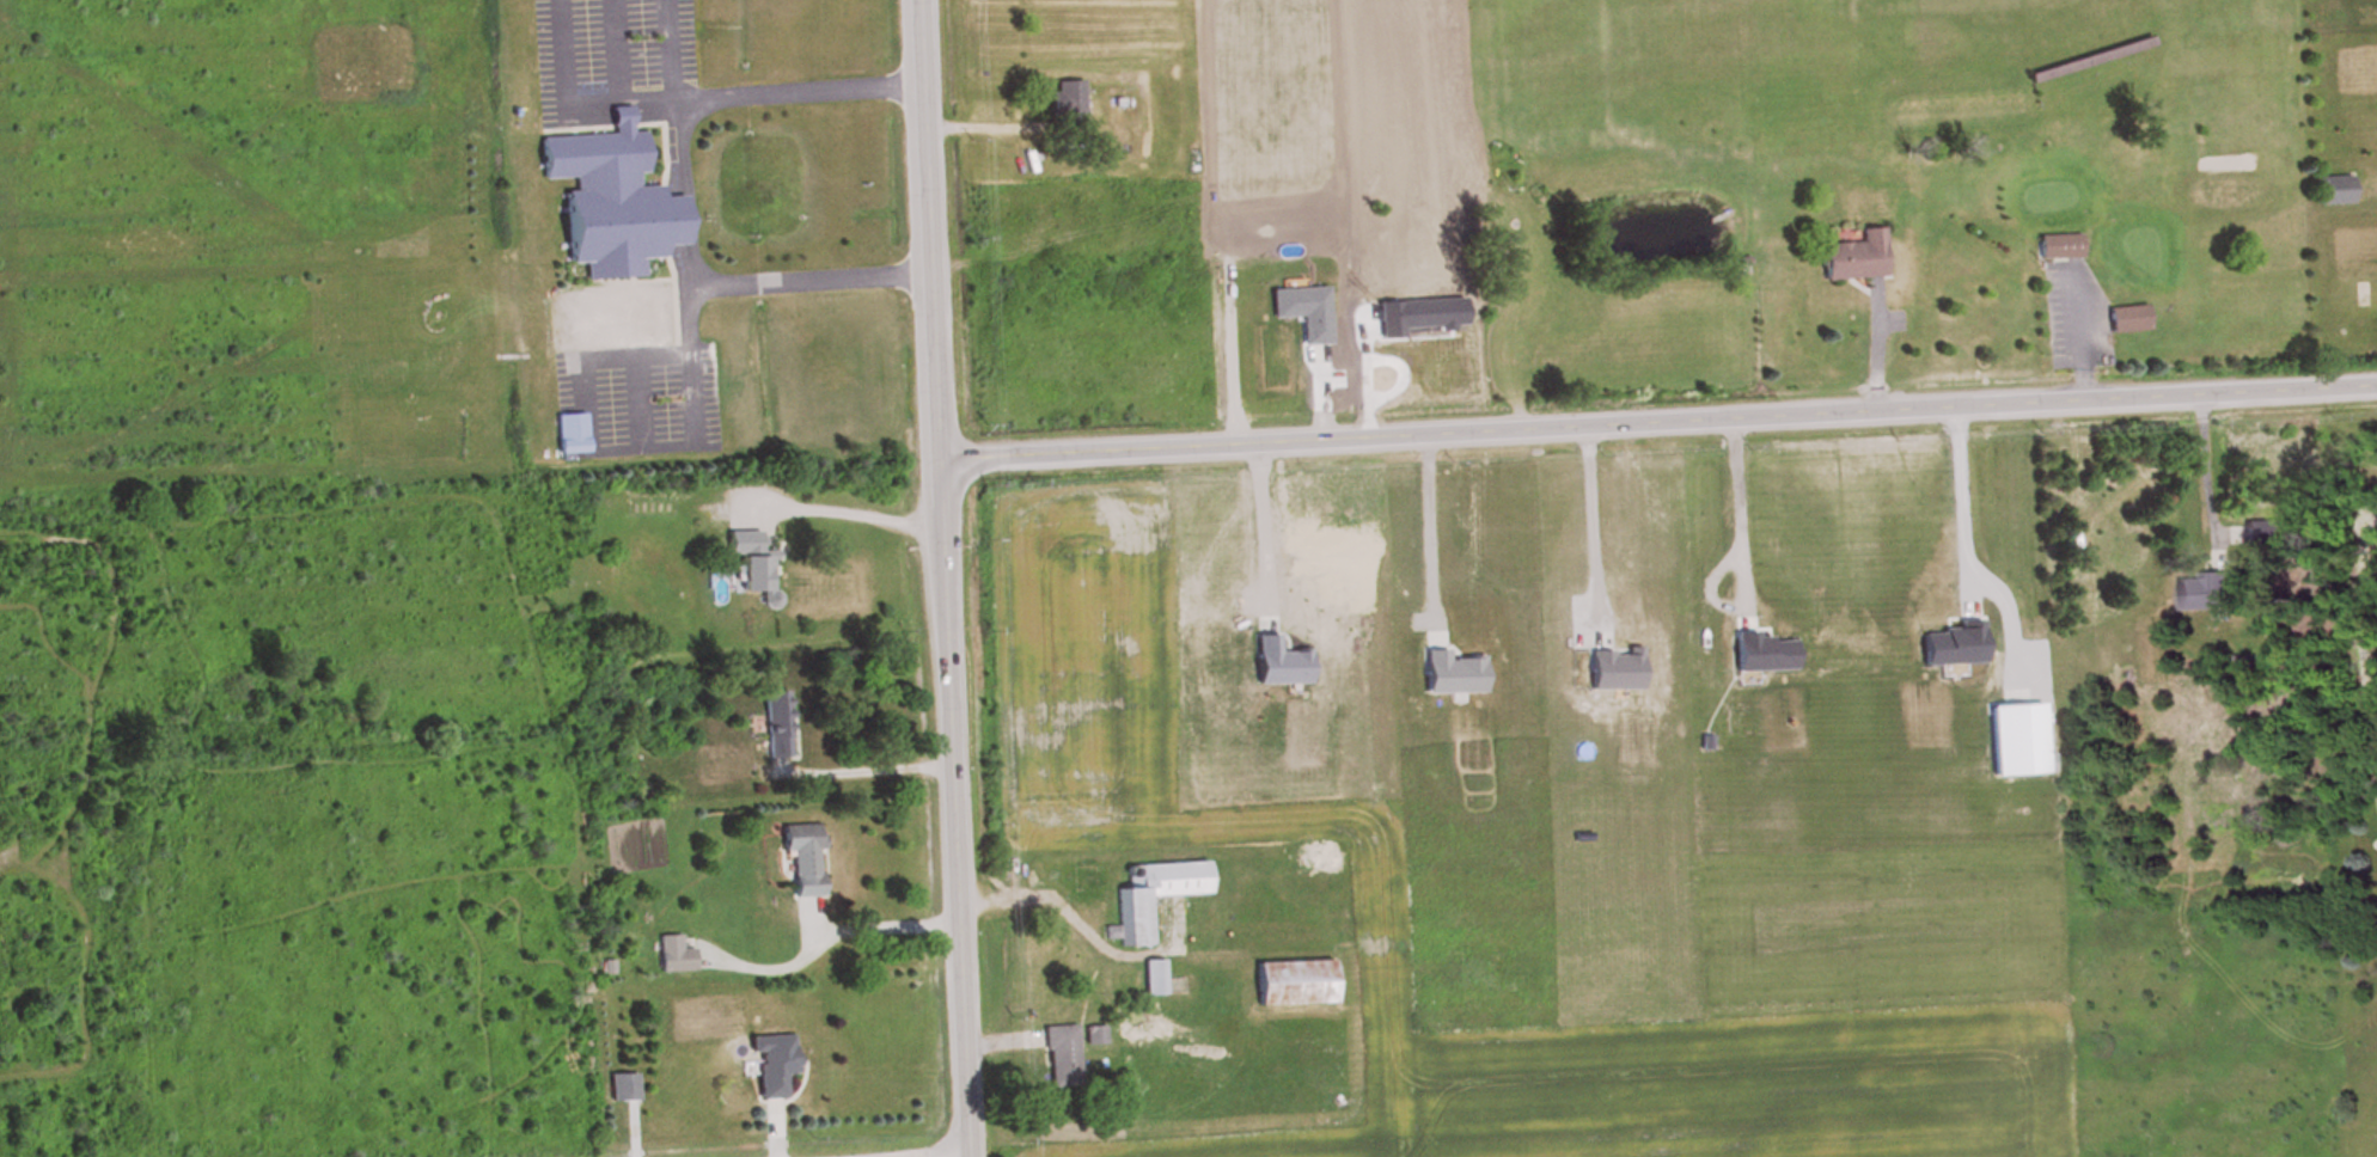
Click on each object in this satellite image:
road: (674, 44)
road: (798, 80)
road: (579, 93)
building: (1070, 110)
building: (2336, 191)
building: (612, 203)
building: (2063, 247)
building: (1854, 256)
road: (690, 258)
road: (808, 270)
building: (2132, 322)
road: (1655, 416)
road: (2207, 464)
road: (1961, 500)
road: (836, 509)
road: (1432, 519)
building: (2266, 534)
road: (1742, 553)
building: (753, 567)
road: (939, 577)
building: (2205, 595)
building: (777, 727)
road: (860, 772)
building: (805, 859)
building: (1084, 881)
building: (1136, 913)
building: (677, 956)
building: (1295, 985)
building: (1063, 1059)
building: (771, 1066)
building: (625, 1089)
road: (894, 1153)

